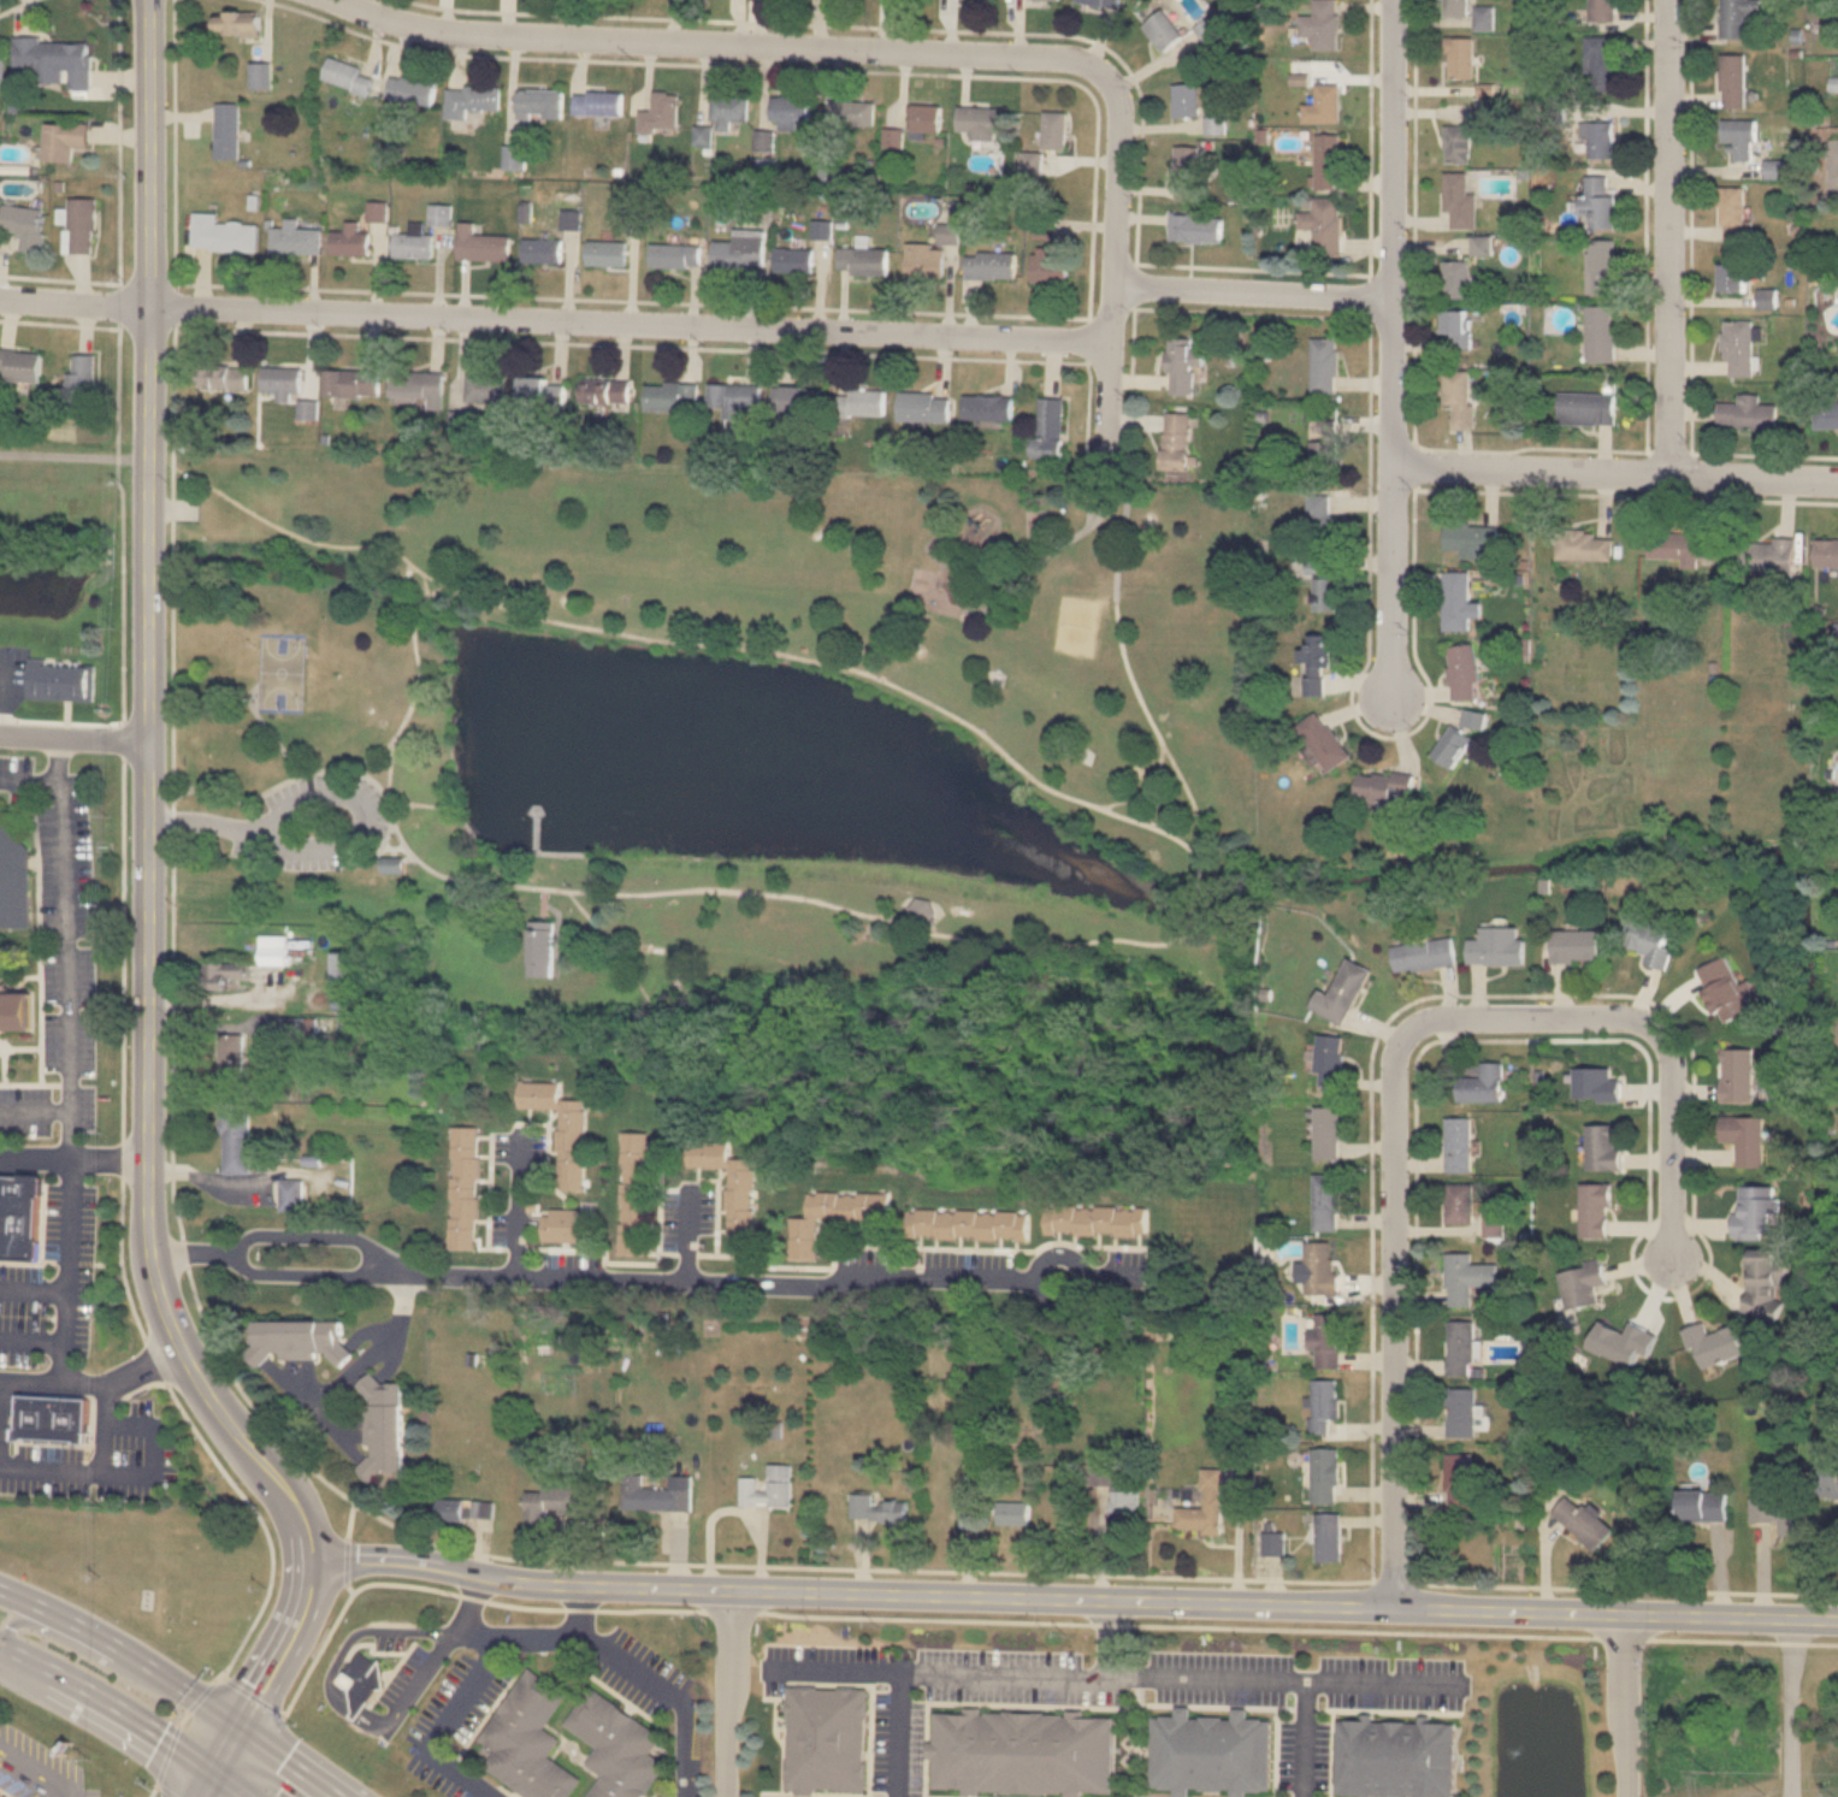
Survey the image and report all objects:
building: (1100, 2)
building: (1455, 7)
building: (1602, 11)
building: (1736, 14)
building: (1484, 18)
building: (238, 23)
building: (1320, 24)
building: (1207, 29)
building: (1163, 30)
road: (709, 43)
building: (1460, 58)
building: (1600, 59)
building: (52, 61)
building: (1, 72)
building: (1736, 73)
building: (261, 75)
building: (348, 76)
building: (412, 89)
building: (471, 99)
building: (1184, 100)
building: (597, 102)
building: (539, 104)
building: (1323, 105)
building: (728, 111)
building: (790, 111)
building: (661, 113)
building: (852, 113)
building: (926, 119)
building: (982, 123)
building: (227, 124)
building: (1054, 130)
building: (1597, 134)
building: (1739, 135)
building: (63, 140)
building: (1458, 143)
building: (514, 156)
building: (1028, 160)
building: (1326, 160)
building: (1188, 173)
building: (831, 177)
building: (1459, 199)
building: (1597, 201)
building: (1733, 214)
building: (569, 219)
building: (22, 225)
building: (79, 225)
building: (1324, 225)
building: (1195, 229)
building: (220, 234)
road: (1668, 237)
building: (292, 238)
building: (348, 241)
building: (480, 244)
building: (412, 246)
building: (932, 249)
building: (539, 250)
building: (739, 250)
building: (604, 253)
building: (674, 255)
building: (793, 260)
building: (863, 260)
building: (989, 265)
building: (1050, 266)
building: (1601, 267)
road: (1111, 271)
building: (1733, 278)
building: (1458, 279)
road: (1251, 290)
road: (628, 300)
road: (554, 320)
building: (1458, 329)
building: (1601, 333)
road: (628, 344)
building: (1738, 348)
road: (1391, 351)
building: (19, 365)
building: (1183, 365)
building: (1324, 365)
building: (223, 377)
road: (1129, 382)
building: (79, 383)
building: (282, 383)
building: (351, 383)
building: (416, 388)
building: (485, 389)
building: (542, 390)
building: (604, 391)
building: (672, 396)
road: (1087, 397)
building: (734, 398)
building: (1459, 400)
building: (798, 403)
building: (862, 403)
building: (926, 407)
building: (988, 407)
building: (1586, 408)
building: (308, 410)
building: (1747, 413)
building: (1826, 413)
building: (1050, 428)
building: (1177, 441)
road: (72, 453)
building: (1325, 456)
road: (1615, 473)
road: (1103, 495)
road: (1087, 502)
building: (1322, 522)
road: (303, 538)
building: (1471, 538)
road: (1118, 539)
building: (1583, 545)
building: (1683, 545)
road: (1046, 550)
building: (1826, 552)
building: (1766, 557)
road: (421, 583)
building: (1325, 595)
building: (1458, 601)
road: (419, 607)
road: (935, 616)
park: (1074, 623)
road: (876, 636)
road: (862, 662)
building: (1317, 662)
road: (850, 668)
park: (278, 672)
building: (1464, 672)
building: (59, 674)
road: (253, 698)
road: (408, 703)
building: (1474, 719)
road: (264, 727)
road: (1156, 733)
park: (723, 737)
road: (72, 738)
building: (1325, 740)
building: (1453, 746)
road: (386, 769)
road: (26, 780)
road: (170, 780)
road: (374, 784)
road: (1141, 788)
building: (1384, 788)
road: (178, 793)
road: (146, 803)
road: (421, 804)
road: (18, 808)
road: (397, 811)
parking lot: (313, 822)
road: (530, 830)
road: (329, 845)
road: (390, 847)
road: (374, 850)
road: (390, 851)
road: (514, 852)
road: (32, 862)
road: (120, 863)
building: (389, 864)
building: (13, 880)
road: (587, 882)
road: (539, 904)
building: (921, 911)
road: (1188, 911)
road: (871, 916)
road: (36, 932)
building: (1649, 941)
building: (1496, 946)
building: (1574, 946)
building: (538, 948)
building: (272, 950)
road: (621, 951)
parking lot: (58, 952)
building: (1424, 954)
road: (779, 957)
building: (344, 974)
building: (220, 976)
building: (1726, 991)
building: (1341, 992)
building: (16, 1010)
road: (1645, 1022)
building: (292, 1029)
road: (652, 1040)
road: (32, 1047)
building: (230, 1059)
road: (66, 1060)
building: (1330, 1060)
building: (1737, 1075)
road: (0, 1078)
road: (32, 1083)
building: (1482, 1086)
road: (32, 1111)
building: (560, 1128)
building: (1326, 1134)
building: (1744, 1139)
building: (234, 1142)
building: (1458, 1145)
building: (1601, 1147)
road: (72, 1158)
building: (728, 1186)
building: (462, 1188)
building: (632, 1193)
building: (290, 1195)
building: (1325, 1202)
building: (1459, 1204)
road: (515, 1206)
building: (1594, 1211)
building: (1755, 1212)
building: (831, 1216)
building: (19, 1217)
building: (1094, 1220)
road: (39, 1223)
building: (967, 1223)
building: (565, 1224)
road: (77, 1261)
road: (19, 1263)
building: (1319, 1267)
road: (41, 1275)
building: (1466, 1278)
road: (646, 1281)
building: (1765, 1283)
building: (1580, 1284)
road: (31, 1290)
road: (1394, 1322)
road: (30, 1341)
building: (296, 1341)
building: (1326, 1341)
road: (374, 1342)
building: (1713, 1346)
building: (1460, 1348)
parking lot: (72, 1370)
road: (94, 1385)
road: (129, 1393)
building: (1323, 1403)
building: (1461, 1413)
building: (59, 1415)
building: (382, 1427)
road: (101, 1430)
road: (123, 1473)
building: (1101, 1474)
building: (1324, 1476)
building: (1461, 1482)
building: (1827, 1486)
building: (767, 1488)
building: (652, 1496)
building: (560, 1502)
building: (1202, 1507)
building: (1703, 1507)
building: (466, 1509)
building: (876, 1509)
building: (1121, 1511)
building: (1012, 1513)
building: (1779, 1513)
building: (1583, 1521)
building: (1328, 1538)
building: (1272, 1544)
road: (344, 1547)
road: (1070, 1597)
road: (578, 1609)
road: (279, 1645)
road: (120, 1648)
road: (315, 1654)
road: (1790, 1656)
road: (331, 1668)
road: (834, 1669)
road: (976, 1673)
parking lot: (403, 1674)
building: (368, 1675)
road: (1260, 1680)
road: (1378, 1684)
road: (668, 1692)
road: (722, 1692)
road: (203, 1693)
road: (250, 1695)
road: (462, 1696)
road: (111, 1701)
road: (1624, 1704)
parking lot: (1100, 1706)
parking lot: (661, 1707)
road: (182, 1718)
traffic signals: (236, 1722)
parking lot: (461, 1730)
building: (536, 1734)
building: (828, 1742)
road: (225, 1746)
building: (623, 1746)
road: (1787, 1746)
building: (1027, 1750)
building: (1218, 1752)
road: (166, 1754)
building: (1391, 1754)
parking lot: (41, 1756)
road: (291, 1760)
traffic signals: (215, 1772)
road: (34, 1773)
road: (209, 1784)
road: (231, 1784)
road: (164, 1791)
building: (0, 1796)

